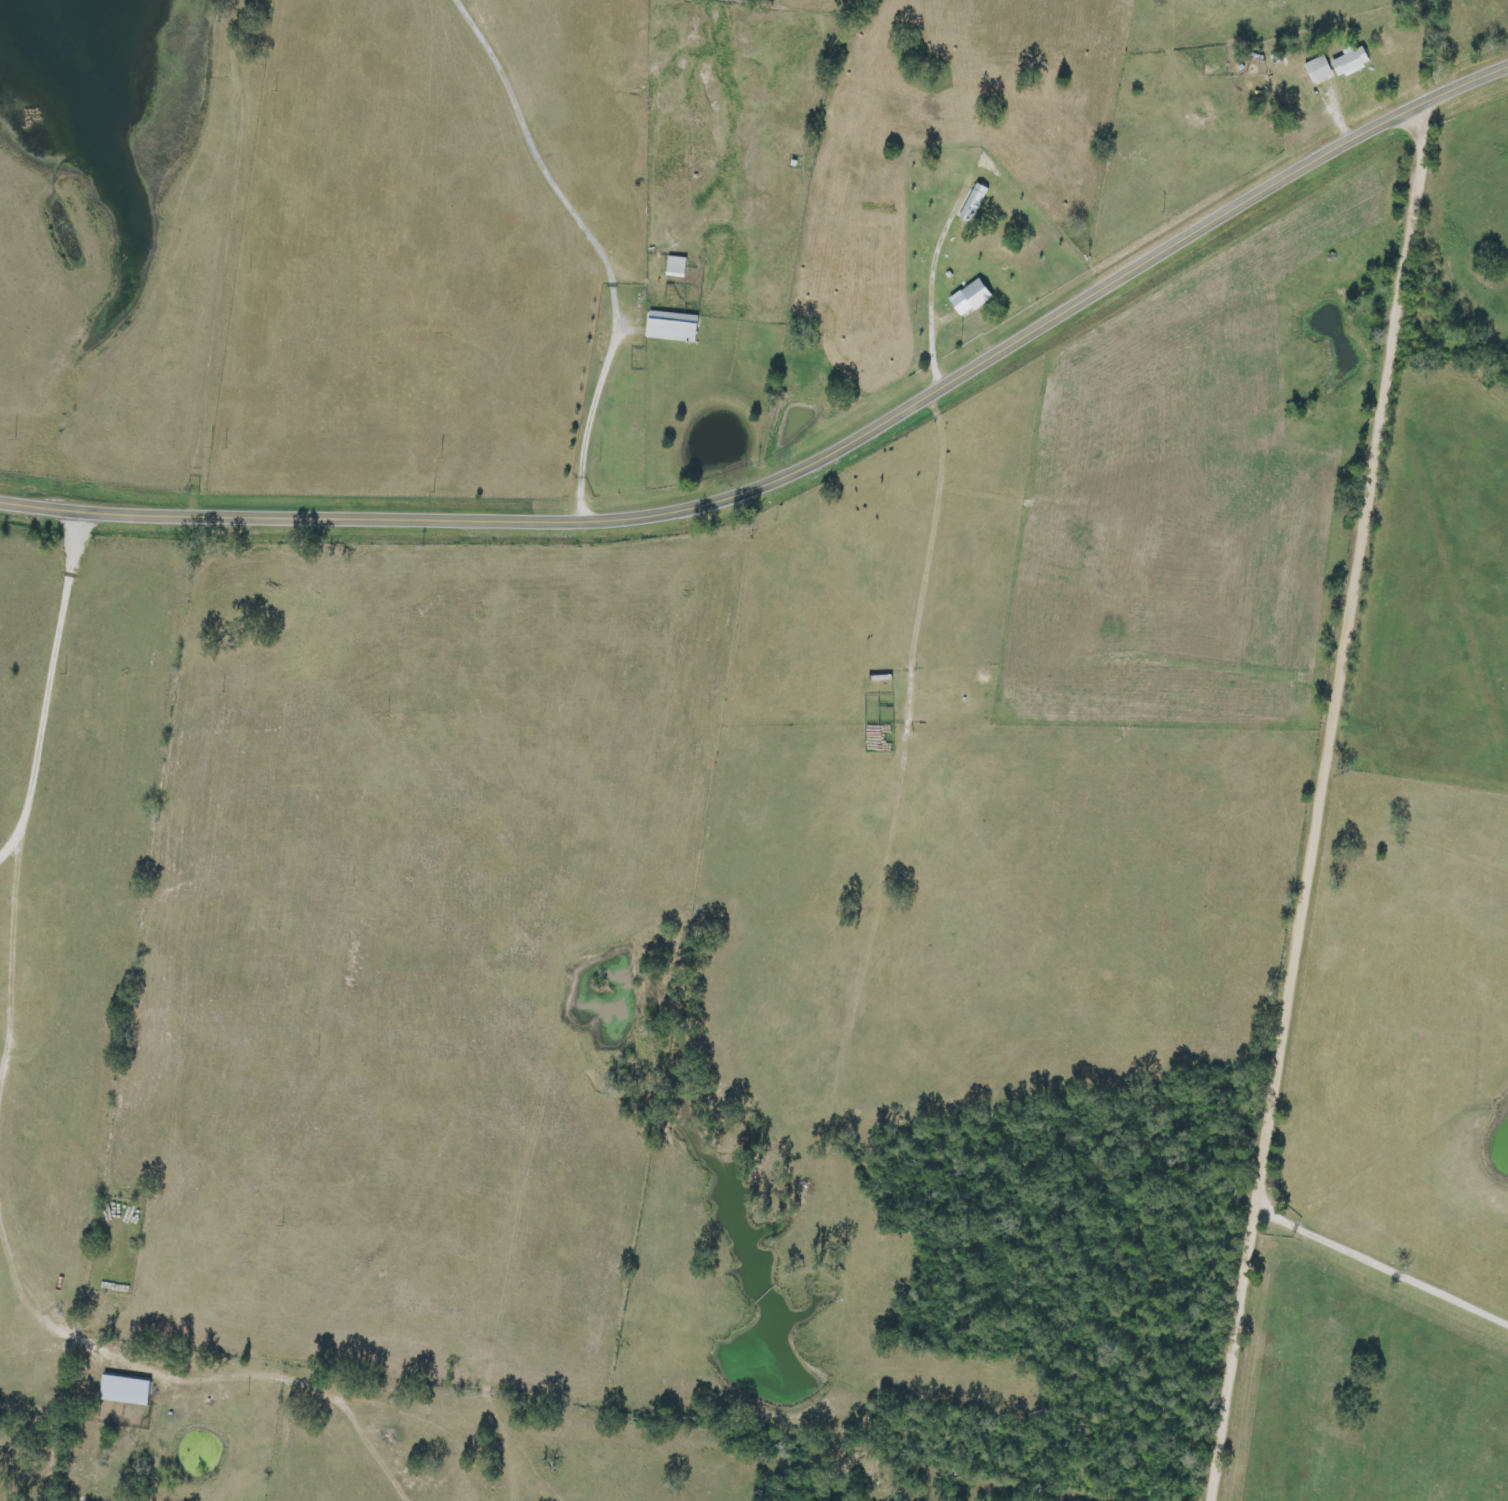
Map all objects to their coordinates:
building: (1353, 62)
building: (1320, 70)
building: (679, 266)
building: (976, 297)
building: (678, 327)
road: (802, 466)
road: (1324, 800)
building: (125, 1390)

